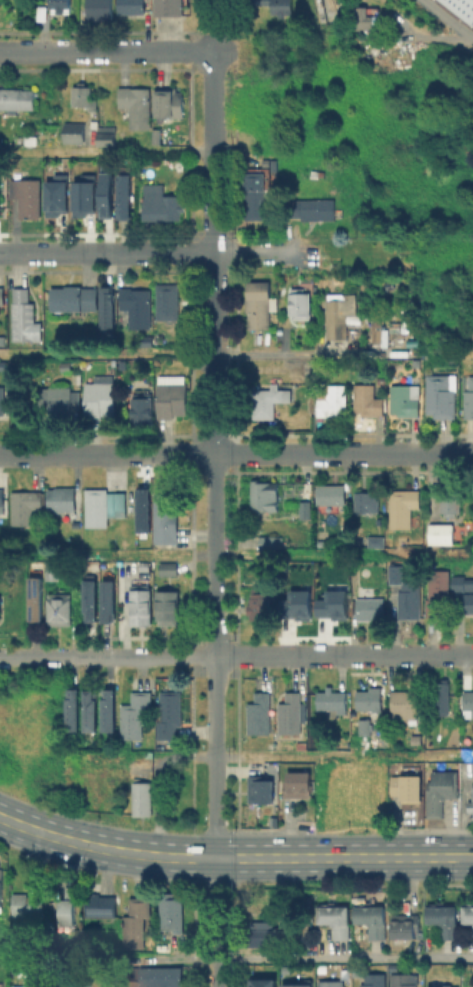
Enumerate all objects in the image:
building: (61, 5)
building: (279, 5)
building: (132, 6)
building: (101, 8)
building: (173, 8)
building: (461, 8)
building: (363, 18)
road: (448, 18)
road: (216, 25)
road: (439, 38)
road: (106, 50)
building: (84, 96)
building: (16, 99)
road: (213, 100)
building: (172, 102)
building: (136, 105)
building: (76, 132)
building: (106, 135)
building: (158, 137)
building: (31, 139)
road: (106, 151)
building: (104, 191)
building: (255, 194)
building: (54, 195)
building: (82, 196)
building: (27, 197)
building: (125, 198)
building: (161, 203)
building: (311, 209)
road: (107, 252)
road: (256, 252)
building: (0, 287)
building: (74, 298)
building: (1, 299)
building: (167, 301)
building: (300, 301)
building: (260, 305)
building: (110, 306)
building: (135, 306)
building: (339, 313)
building: (23, 316)
building: (376, 330)
building: (146, 340)
road: (203, 354)
building: (381, 379)
building: (102, 396)
building: (173, 396)
building: (442, 397)
building: (469, 397)
building: (332, 399)
building: (405, 399)
building: (367, 400)
building: (2, 401)
building: (265, 401)
building: (59, 402)
building: (143, 409)
road: (343, 452)
road: (41, 454)
road: (148, 454)
building: (331, 494)
building: (264, 495)
road: (214, 498)
building: (61, 499)
building: (366, 500)
building: (404, 501)
building: (1, 502)
building: (450, 503)
building: (101, 505)
building: (25, 506)
building: (303, 509)
building: (163, 517)
building: (444, 535)
building: (403, 538)
building: (271, 541)
building: (376, 541)
road: (277, 553)
building: (170, 565)
building: (144, 568)
building: (49, 570)
building: (395, 573)
building: (461, 582)
building: (437, 589)
building: (37, 600)
building: (93, 601)
building: (111, 602)
building: (294, 603)
building: (331, 603)
building: (468, 603)
building: (409, 604)
building: (141, 605)
building: (168, 606)
building: (259, 606)
building: (0, 607)
building: (370, 607)
building: (59, 608)
road: (451, 654)
road: (283, 655)
road: (389, 655)
road: (41, 656)
road: (149, 656)
building: (444, 698)
building: (369, 699)
building: (468, 699)
building: (332, 700)
building: (406, 705)
building: (74, 712)
building: (112, 712)
building: (93, 713)
building: (169, 713)
building: (259, 713)
building: (289, 713)
building: (135, 714)
building: (364, 725)
building: (416, 738)
building: (126, 744)
road: (236, 748)
road: (344, 755)
building: (299, 785)
building: (409, 788)
building: (263, 792)
building: (443, 792)
building: (142, 798)
building: (470, 806)
road: (350, 826)
road: (429, 828)
road: (226, 829)
road: (275, 829)
road: (84, 832)
road: (223, 845)
road: (294, 857)
road: (352, 857)
road: (406, 857)
road: (448, 857)
road: (134, 864)
building: (1, 886)
building: (27, 904)
building: (100, 904)
building: (68, 907)
building: (171, 911)
building: (470, 918)
building: (136, 922)
building: (338, 922)
building: (375, 922)
building: (448, 923)
road: (216, 928)
building: (407, 928)
building: (262, 934)
building: (163, 945)
road: (344, 958)
building: (33, 971)
building: (159, 978)
building: (376, 981)
building: (406, 981)
building: (264, 982)
building: (299, 983)
building: (332, 985)
building: (24, 986)
building: (441, 986)

